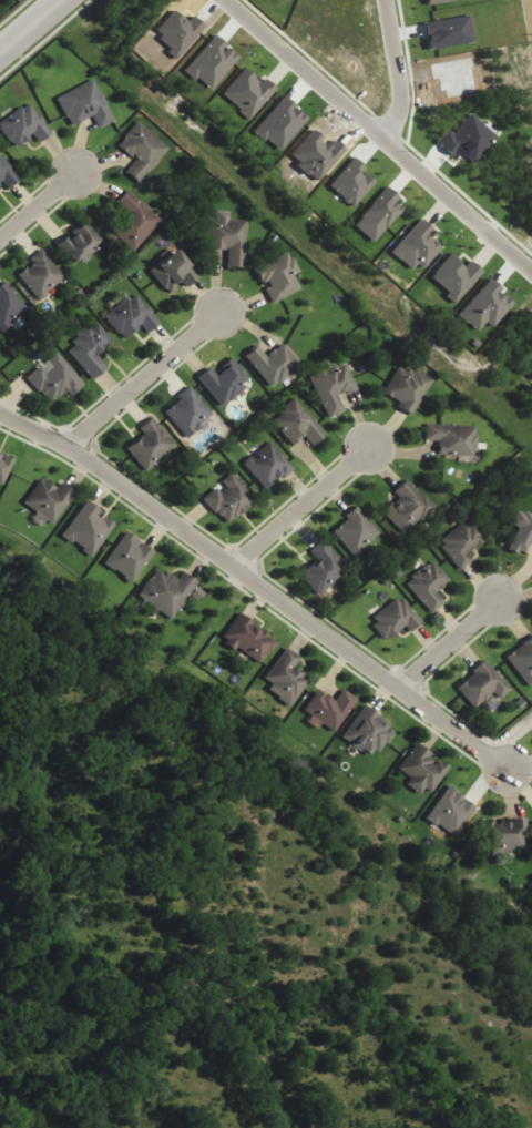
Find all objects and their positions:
building: (438, 1)
road: (24, 21)
building: (449, 32)
road: (398, 70)
building: (248, 93)
building: (85, 105)
building: (280, 124)
building: (23, 126)
road: (380, 132)
building: (467, 140)
building: (142, 151)
building: (7, 174)
road: (35, 202)
building: (379, 215)
building: (136, 222)
building: (228, 238)
building: (80, 244)
building: (417, 246)
building: (173, 271)
building: (41, 275)
building: (278, 276)
building: (456, 276)
building: (485, 306)
building: (132, 316)
building: (90, 349)
building: (273, 364)
building: (55, 379)
road: (143, 380)
building: (224, 382)
building: (332, 387)
building: (407, 388)
building: (187, 413)
building: (297, 424)
building: (452, 438)
building: (151, 445)
building: (267, 465)
building: (4, 467)
building: (48, 499)
building: (228, 499)
road: (297, 507)
building: (408, 507)
building: (88, 528)
building: (356, 531)
building: (522, 532)
building: (462, 542)
building: (129, 557)
building: (323, 569)
road: (256, 585)
building: (429, 586)
building: (170, 592)
building: (395, 620)
building: (248, 639)
road: (448, 646)
building: (522, 660)
building: (285, 677)
building: (482, 685)
building: (329, 709)
building: (368, 733)
building: (422, 771)
building: (451, 812)
building: (503, 836)

